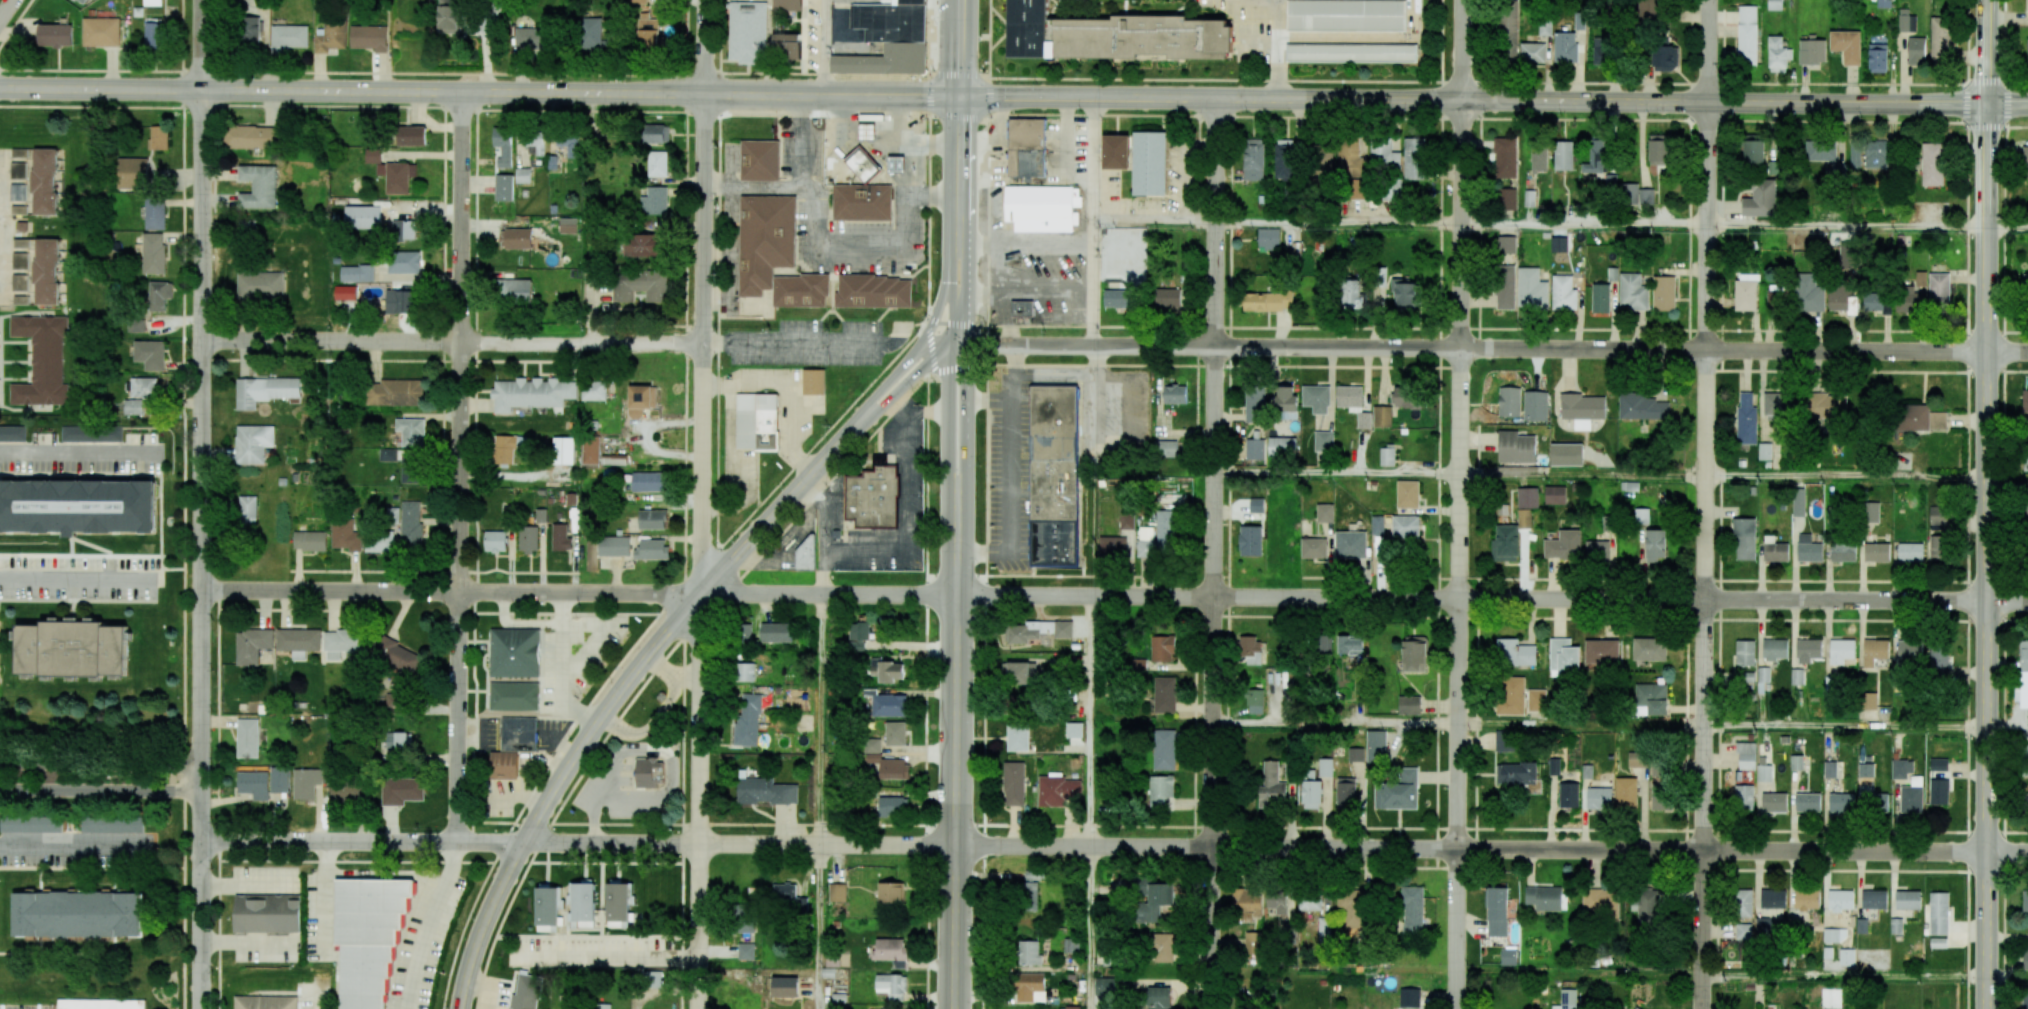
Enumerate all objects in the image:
building: (82, 1)
building: (638, 1)
building: (152, 2)
building: (1884, 3)
building: (787, 5)
building: (1775, 5)
building: (1649, 8)
road: (6, 9)
road: (1141, 9)
building: (2027, 11)
road: (1691, 14)
building: (1346, 15)
building: (449, 19)
building: (1906, 21)
building: (1579, 24)
building: (250, 30)
building: (101, 31)
building: (747, 31)
building: (154, 32)
building: (648, 32)
building: (590, 33)
building: (1507, 34)
building: (1747, 34)
building: (55, 35)
building: (1113, 35)
building: (288, 37)
building: (331, 37)
building: (369, 37)
building: (532, 37)
building: (888, 38)
building: (1941, 38)
road: (199, 44)
road: (704, 46)
building: (787, 46)
road: (825, 46)
building: (1846, 46)
road: (959, 47)
building: (1564, 47)
road: (1279, 49)
building: (2027, 49)
building: (1601, 50)
building: (1812, 50)
building: (1916, 50)
road: (1986, 51)
building: (1351, 52)
building: (1532, 53)
building: (1777, 55)
building: (1664, 58)
building: (1878, 58)
road: (1013, 77)
street lamp: (2011, 81)
street lamp: (1966, 82)
road: (99, 89)
road: (578, 92)
traffic signals: (959, 95)
road: (1472, 101)
traffic signals: (1987, 104)
road: (2007, 104)
road: (1724, 112)
road: (1013, 114)
street lamp: (1968, 129)
street lamp: (2005, 132)
building: (656, 133)
building: (411, 135)
building: (158, 137)
building: (252, 137)
road: (797, 142)
building: (503, 145)
building: (570, 145)
building: (1026, 147)
building: (1658, 147)
building: (1753, 151)
building: (1819, 151)
building: (1868, 151)
building: (19, 152)
building: (1116, 152)
building: (1384, 155)
building: (1563, 155)
building: (1596, 156)
building: (1505, 157)
building: (1414, 158)
road: (929, 159)
building: (1254, 159)
building: (1285, 159)
building: (1539, 159)
building: (759, 160)
building: (1350, 160)
building: (2025, 161)
building: (1321, 162)
building: (657, 163)
building: (1149, 163)
building: (862, 164)
building: (896, 164)
building: (1932, 164)
road: (959, 167)
building: (18, 170)
building: (392, 172)
building: (132, 173)
road: (1480, 174)
building: (523, 175)
building: (1610, 180)
building: (44, 181)
building: (258, 186)
building: (503, 187)
building: (1393, 188)
building: (18, 192)
building: (1628, 193)
building: (1646, 196)
building: (1529, 198)
building: (1505, 199)
building: (1760, 199)
building: (654, 201)
building: (862, 202)
building: (1039, 207)
building: (155, 214)
road: (1689, 216)
building: (363, 217)
road: (1156, 220)
road: (1097, 221)
road: (1461, 223)
building: (569, 225)
road: (1846, 226)
road: (2007, 228)
building: (403, 229)
building: (516, 238)
building: (1268, 238)
building: (1506, 244)
building: (642, 245)
road: (954, 249)
building: (153, 253)
building: (775, 253)
road: (829, 254)
building: (1845, 257)
building: (20, 260)
building: (404, 262)
road: (966, 265)
building: (46, 271)
building: (357, 273)
building: (1612, 274)
building: (1921, 278)
building: (2025, 281)
building: (20, 282)
building: (260, 284)
building: (639, 285)
building: (1505, 287)
building: (1532, 288)
building: (1939, 288)
building: (514, 289)
building: (874, 291)
building: (345, 292)
building: (1632, 292)
building: (1746, 292)
building: (1353, 293)
building: (1563, 293)
building: (1664, 293)
building: (1808, 293)
building: (159, 295)
building: (1405, 295)
building: (1167, 297)
building: (1838, 297)
building: (1119, 298)
building: (1600, 298)
building: (1776, 298)
building: (1908, 298)
road: (948, 300)
building: (399, 301)
building: (1268, 301)
building: (1877, 302)
building: (1853, 304)
road: (939, 305)
building: (1022, 308)
road: (966, 317)
road: (959, 318)
building: (136, 324)
road: (1476, 327)
road: (199, 339)
road: (450, 341)
traffic signals: (948, 341)
road: (957, 341)
traffic signals: (966, 341)
road: (789, 342)
road: (934, 342)
road: (701, 343)
road: (929, 345)
traffic signals: (922, 348)
road: (1496, 349)
road: (1721, 350)
building: (151, 354)
building: (42, 360)
road: (1867, 371)
building: (814, 381)
building: (144, 387)
building: (266, 390)
building: (594, 390)
building: (394, 392)
building: (531, 393)
building: (1175, 394)
building: (1407, 397)
building: (1316, 398)
building: (641, 400)
building: (1509, 401)
building: (2025, 401)
building: (1254, 403)
building: (1287, 403)
building: (1353, 403)
building: (1535, 405)
building: (1827, 405)
building: (135, 406)
road: (880, 406)
building: (1776, 406)
building: (1641, 407)
road: (865, 408)
building: (1582, 409)
road: (917, 410)
road: (965, 415)
road: (948, 416)
building: (1382, 416)
building: (1918, 418)
building: (1747, 419)
building: (756, 421)
road: (1439, 424)
building: (410, 431)
building: (13, 433)
building: (91, 433)
building: (1323, 441)
building: (253, 443)
building: (1282, 446)
building: (1516, 447)
building: (1165, 448)
building: (504, 449)
building: (1254, 449)
building: (563, 450)
building: (590, 451)
building: (1765, 451)
road: (77, 452)
building: (388, 454)
building: (1567, 454)
building: (1387, 455)
building: (2025, 457)
building: (613, 460)
road: (458, 466)
building: (410, 468)
road: (841, 468)
road: (1460, 473)
road: (1846, 475)
building: (1053, 476)
building: (648, 481)
building: (1408, 494)
building: (1555, 495)
building: (872, 497)
building: (1528, 497)
building: (1798, 502)
road: (985, 504)
road: (1459, 504)
road: (1705, 504)
road: (1968, 504)
road: (2003, 504)
building: (1256, 505)
building: (77, 506)
road: (825, 508)
building: (247, 509)
building: (2027, 511)
building: (1870, 512)
building: (1325, 513)
building: (393, 515)
building: (1939, 515)
building: (1524, 518)
building: (652, 519)
building: (1127, 521)
building: (1607, 523)
building: (1377, 525)
building: (411, 526)
building: (1405, 526)
building: (346, 535)
building: (1161, 536)
building: (560, 537)
building: (528, 539)
building: (1744, 539)
building: (309, 540)
road: (900, 540)
building: (1250, 540)
building: (379, 541)
building: (495, 541)
building: (1505, 543)
building: (1350, 544)
building: (1655, 544)
building: (613, 545)
building: (1563, 545)
building: (1112, 547)
building: (1380, 547)
building: (1313, 548)
building: (1938, 548)
building: (652, 549)
building: (1808, 549)
building: (1599, 550)
building: (1774, 550)
building: (1843, 551)
building: (806, 552)
building: (1876, 552)
building: (1910, 552)
road: (1213, 553)
road: (1987, 556)
road: (81, 576)
road: (450, 591)
road: (1363, 598)
road: (580, 625)
building: (1038, 630)
building: (744, 631)
building: (776, 632)
building: (859, 635)
road: (641, 636)
building: (298, 641)
building: (342, 642)
building: (1323, 644)
building: (252, 645)
building: (1349, 645)
building: (1163, 648)
building: (72, 649)
building: (1650, 649)
building: (1775, 649)
building: (1251, 650)
building: (1808, 650)
building: (1602, 651)
building: (1841, 651)
building: (1875, 651)
building: (1910, 651)
building: (514, 652)
building: (1515, 652)
building: (1745, 652)
building: (1414, 653)
building: (1563, 655)
building: (398, 656)
building: (1938, 660)
building: (1139, 664)
building: (887, 670)
building: (745, 672)
building: (1021, 672)
road: (671, 673)
building: (2023, 675)
building: (1764, 676)
building: (1797, 676)
road: (926, 692)
building: (1165, 695)
building: (1511, 695)
building: (514, 696)
building: (1652, 697)
building: (1536, 700)
building: (1869, 700)
building: (1255, 701)
building: (1015, 704)
building: (1409, 704)
building: (889, 705)
road: (579, 711)
road: (600, 718)
building: (748, 719)
road: (822, 719)
road: (1090, 721)
road: (1458, 723)
road: (1717, 725)
road: (1845, 725)
building: (1073, 730)
building: (518, 733)
building: (895, 733)
building: (1017, 737)
building: (247, 738)
building: (1505, 740)
building: (399, 742)
road: (1685, 742)
building: (1376, 746)
road: (652, 748)
road: (955, 748)
building: (1164, 749)
building: (873, 750)
building: (1355, 754)
building: (1746, 755)
building: (2026, 758)
building: (1637, 759)
building: (1796, 762)
building: (1939, 764)
road: (100, 765)
building: (503, 765)
building: (1553, 766)
building: (1325, 767)
building: (894, 768)
building: (1829, 769)
building: (1900, 769)
building: (1865, 770)
building: (646, 773)
building: (1657, 773)
building: (1764, 773)
building: (1516, 774)
building: (1309, 775)
building: (279, 779)
road: (100, 783)
building: (306, 783)
building: (1014, 783)
building: (254, 784)
building: (1272, 786)
building: (401, 790)
building: (1057, 790)
road: (521, 791)
building: (766, 791)
building: (1161, 791)
building: (1398, 791)
building: (1939, 791)
building: (1346, 792)
building: (1626, 792)
building: (350, 793)
building: (1311, 794)
building: (1568, 794)
building: (1661, 796)
building: (1912, 796)
building: (1743, 797)
building: (1599, 798)
road: (200, 799)
road: (699, 801)
building: (1773, 802)
building: (1807, 802)
building: (1840, 802)
building: (1878, 802)
building: (2027, 803)
building: (893, 806)
building: (31, 823)
building: (111, 824)
building: (108, 836)
road: (361, 841)
road: (738, 844)
road: (1491, 849)
road: (79, 851)
road: (386, 873)
road: (248, 884)
building: (1029, 890)
building: (837, 892)
building: (891, 894)
building: (790, 896)
building: (1546, 897)
road: (324, 898)
building: (1772, 898)
building: (1152, 899)
building: (1807, 899)
building: (1874, 899)
building: (1908, 899)
building: (618, 900)
building: (1247, 900)
building: (1840, 900)
building: (2025, 900)
building: (1603, 901)
building: (1281, 902)
building: (1310, 902)
building: (1743, 903)
building: (583, 904)
building: (1646, 905)
building: (1351, 908)
building: (1412, 911)
building: (1497, 911)
building: (267, 913)
building: (1938, 913)
building: (77, 914)
building: (744, 918)
road: (429, 924)
building: (1862, 925)
road: (822, 926)
building: (1896, 926)
road: (1089, 927)
building: (1325, 929)
building: (1289, 930)
building: (1743, 931)
building: (1835, 935)
building: (368, 936)
building: (1253, 941)
building: (1938, 942)
road: (246, 944)
building: (1071, 945)
building: (1161, 947)
building: (746, 951)
building: (891, 951)
building: (1029, 953)
building: (2025, 955)
building: (1508, 956)
road: (607, 957)
building: (1847, 957)
road: (1844, 977)
building: (652, 979)
building: (784, 986)
building: (892, 986)
building: (1105, 986)
building: (1030, 987)
building: (526, 992)
building: (1409, 997)
building: (2025, 997)
building: (1159, 998)
building: (1567, 999)
building: (265, 1002)
building: (100, 1003)
building: (603, 1006)
building: (1072, 1007)

